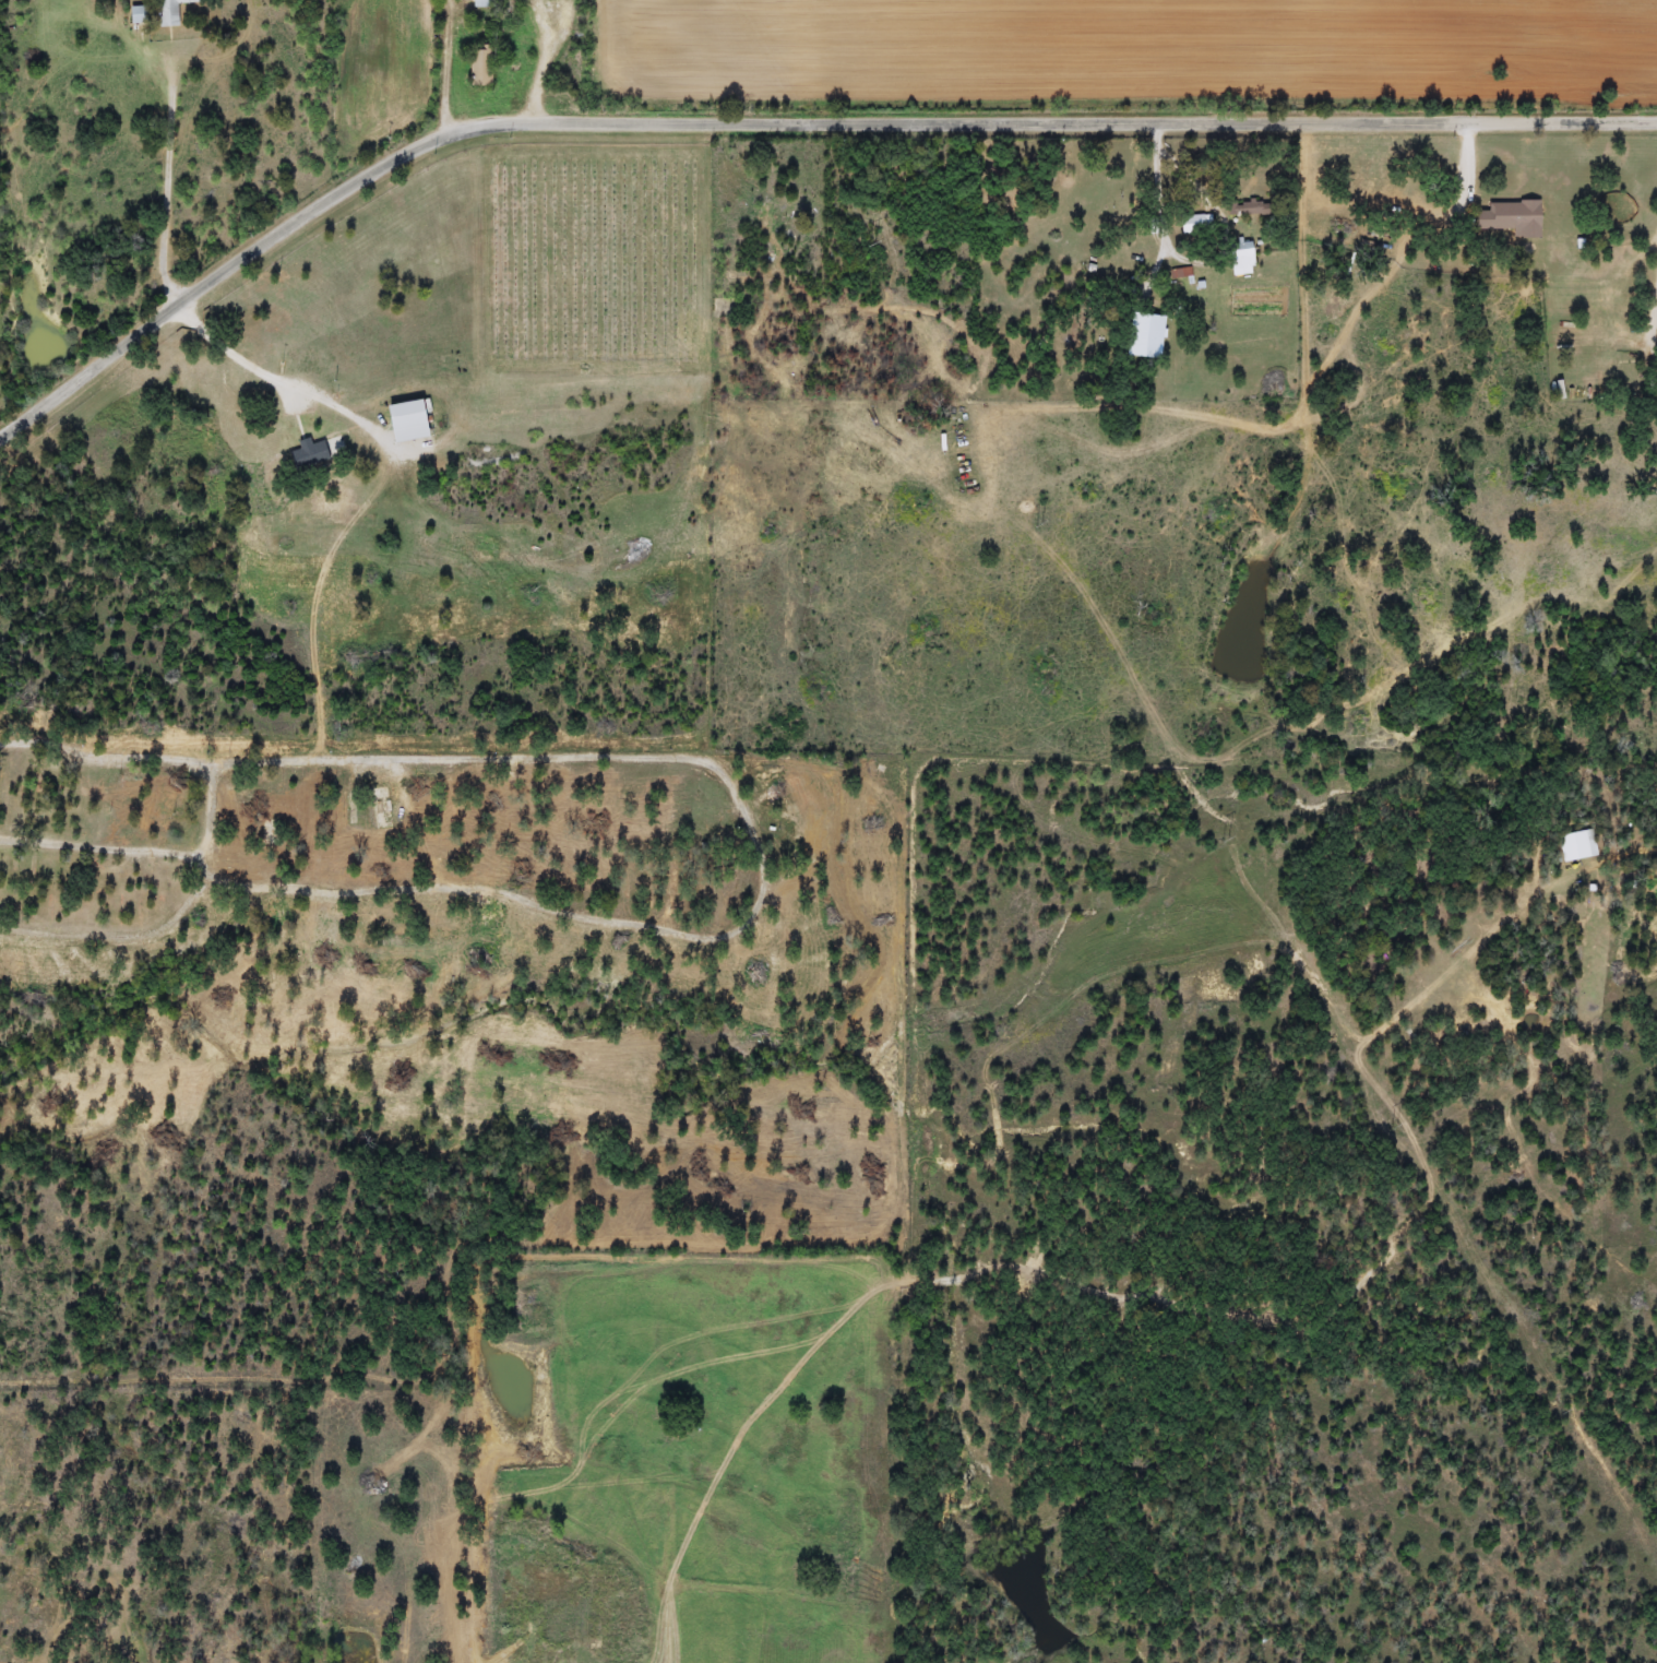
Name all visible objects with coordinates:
building: (169, 12)
building: (135, 14)
road: (449, 66)
building: (478, 67)
road: (544, 67)
road: (779, 120)
road: (1469, 170)
road: (168, 183)
building: (1249, 209)
building: (1509, 218)
building: (1196, 225)
road: (1199, 262)
building: (1149, 334)
road: (1650, 335)
building: (405, 421)
building: (307, 454)
road: (722, 769)
building: (7, 789)
building: (177, 792)
building: (502, 804)
building: (344, 807)
road: (417, 821)
building: (160, 825)
road: (104, 845)
building: (1576, 845)
building: (380, 855)
building: (671, 869)
building: (5, 894)
road: (171, 918)

